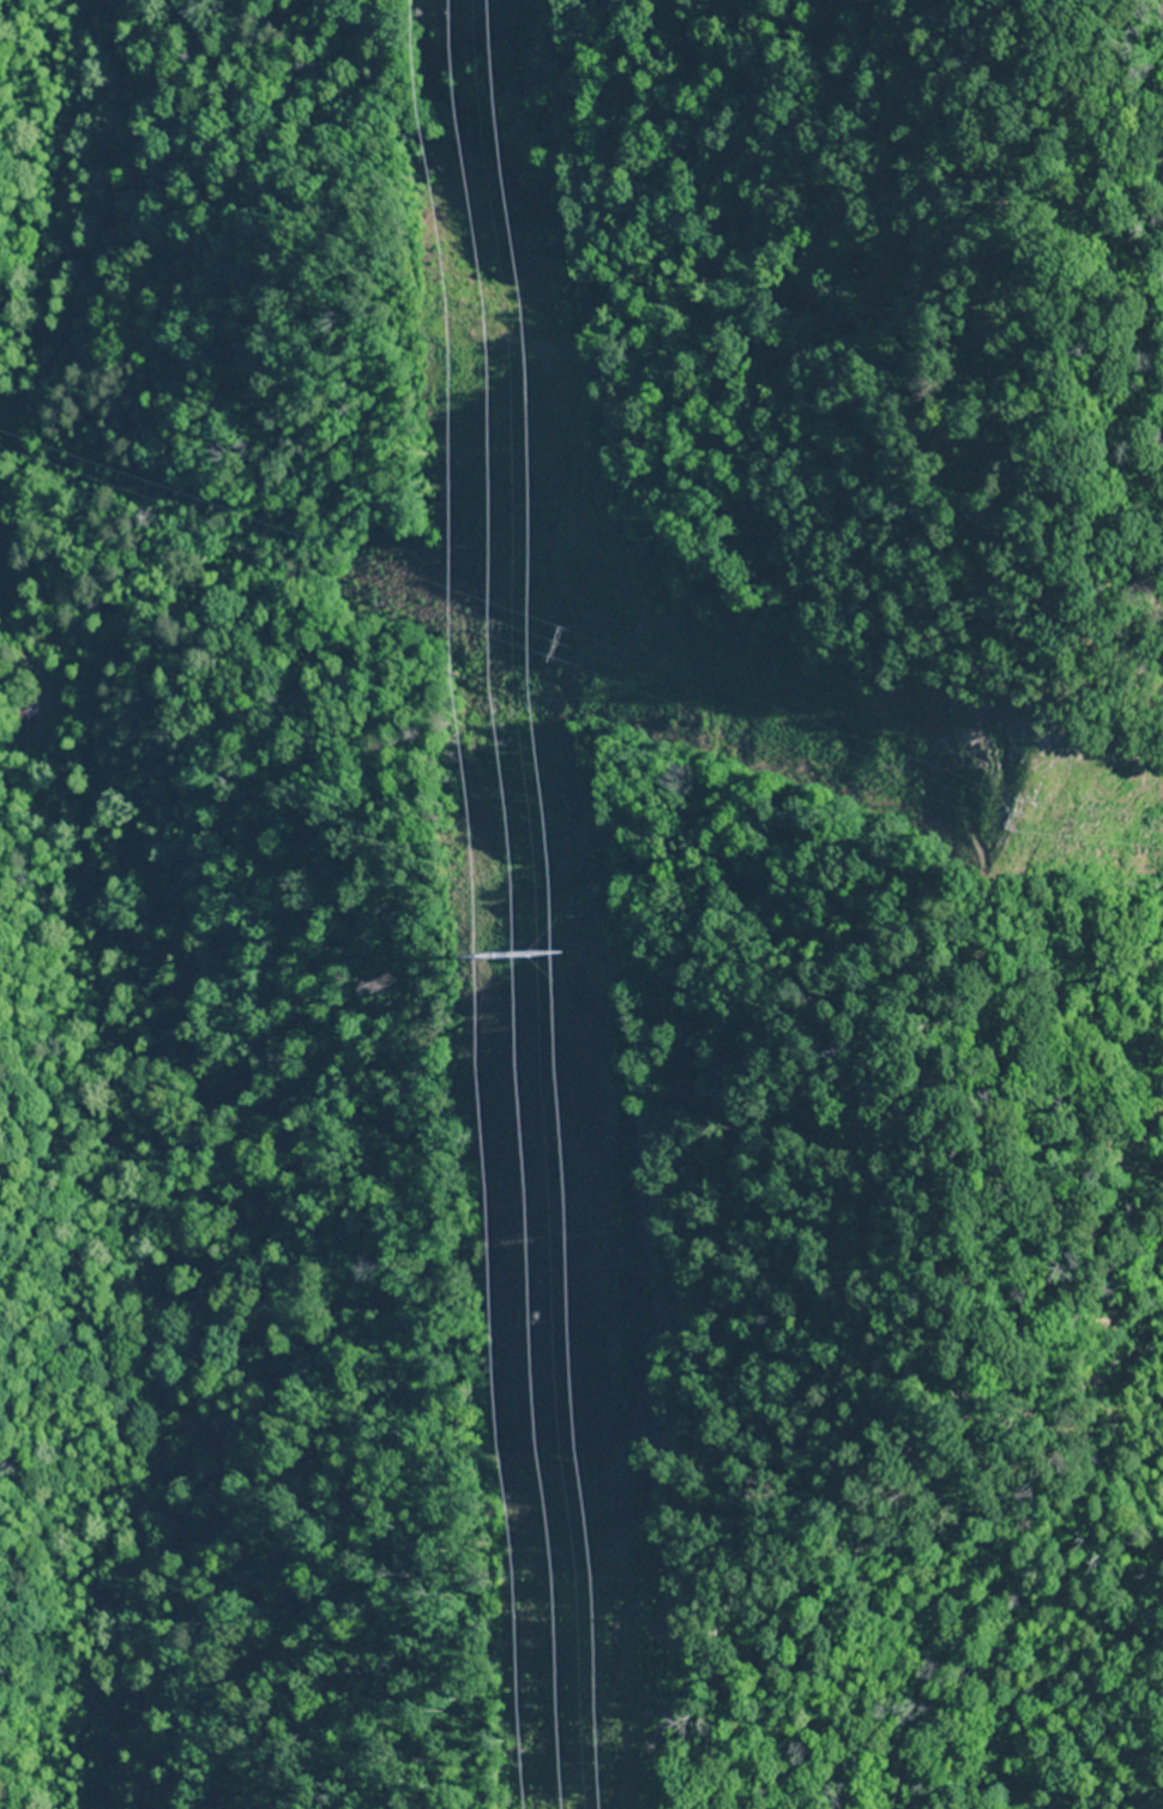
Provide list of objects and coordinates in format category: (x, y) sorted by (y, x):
road: (49, 221)
building: (37, 711)
power tower: (528, 950)

